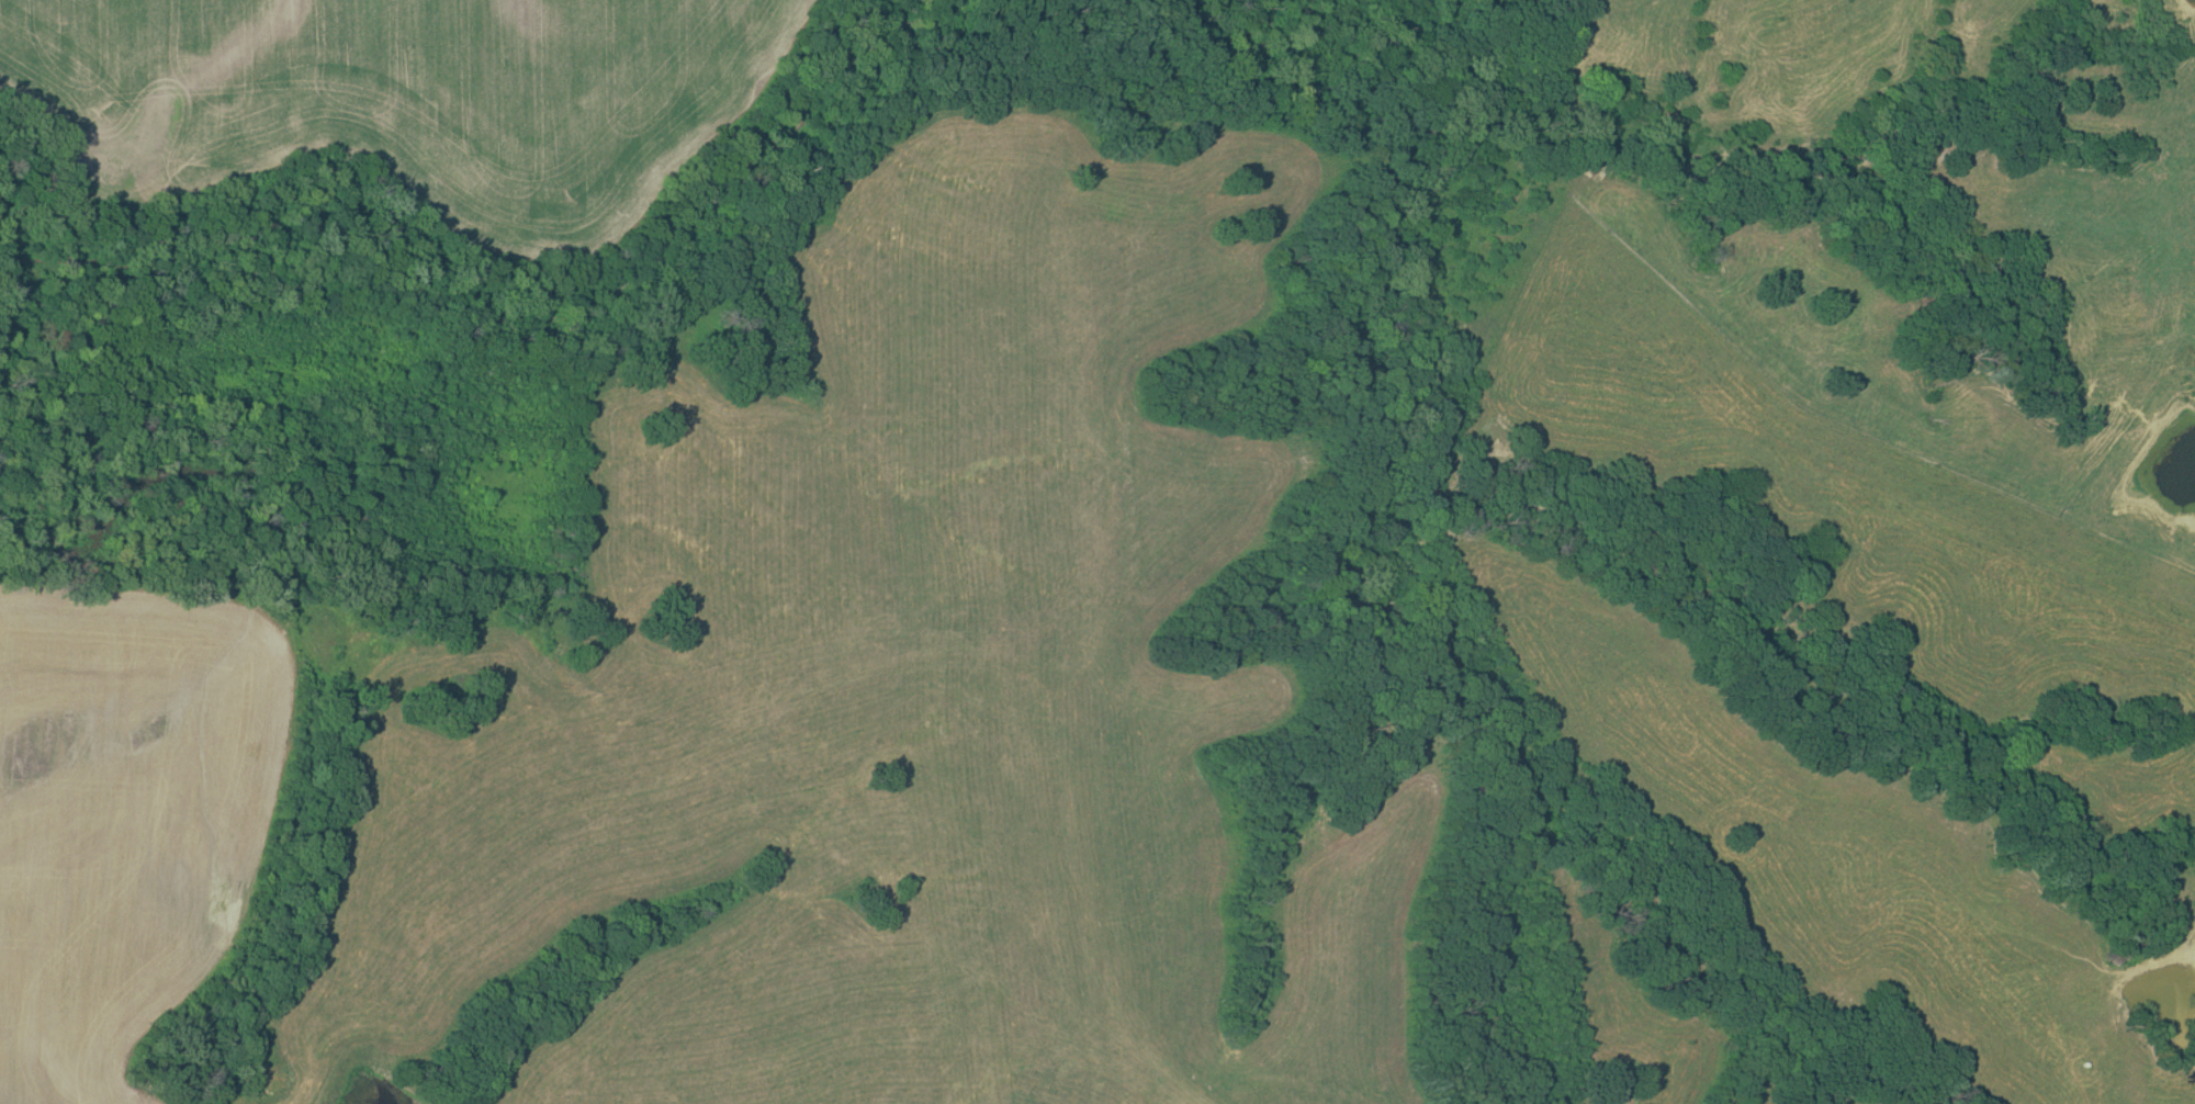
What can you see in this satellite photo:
park: (1609, 1082)

